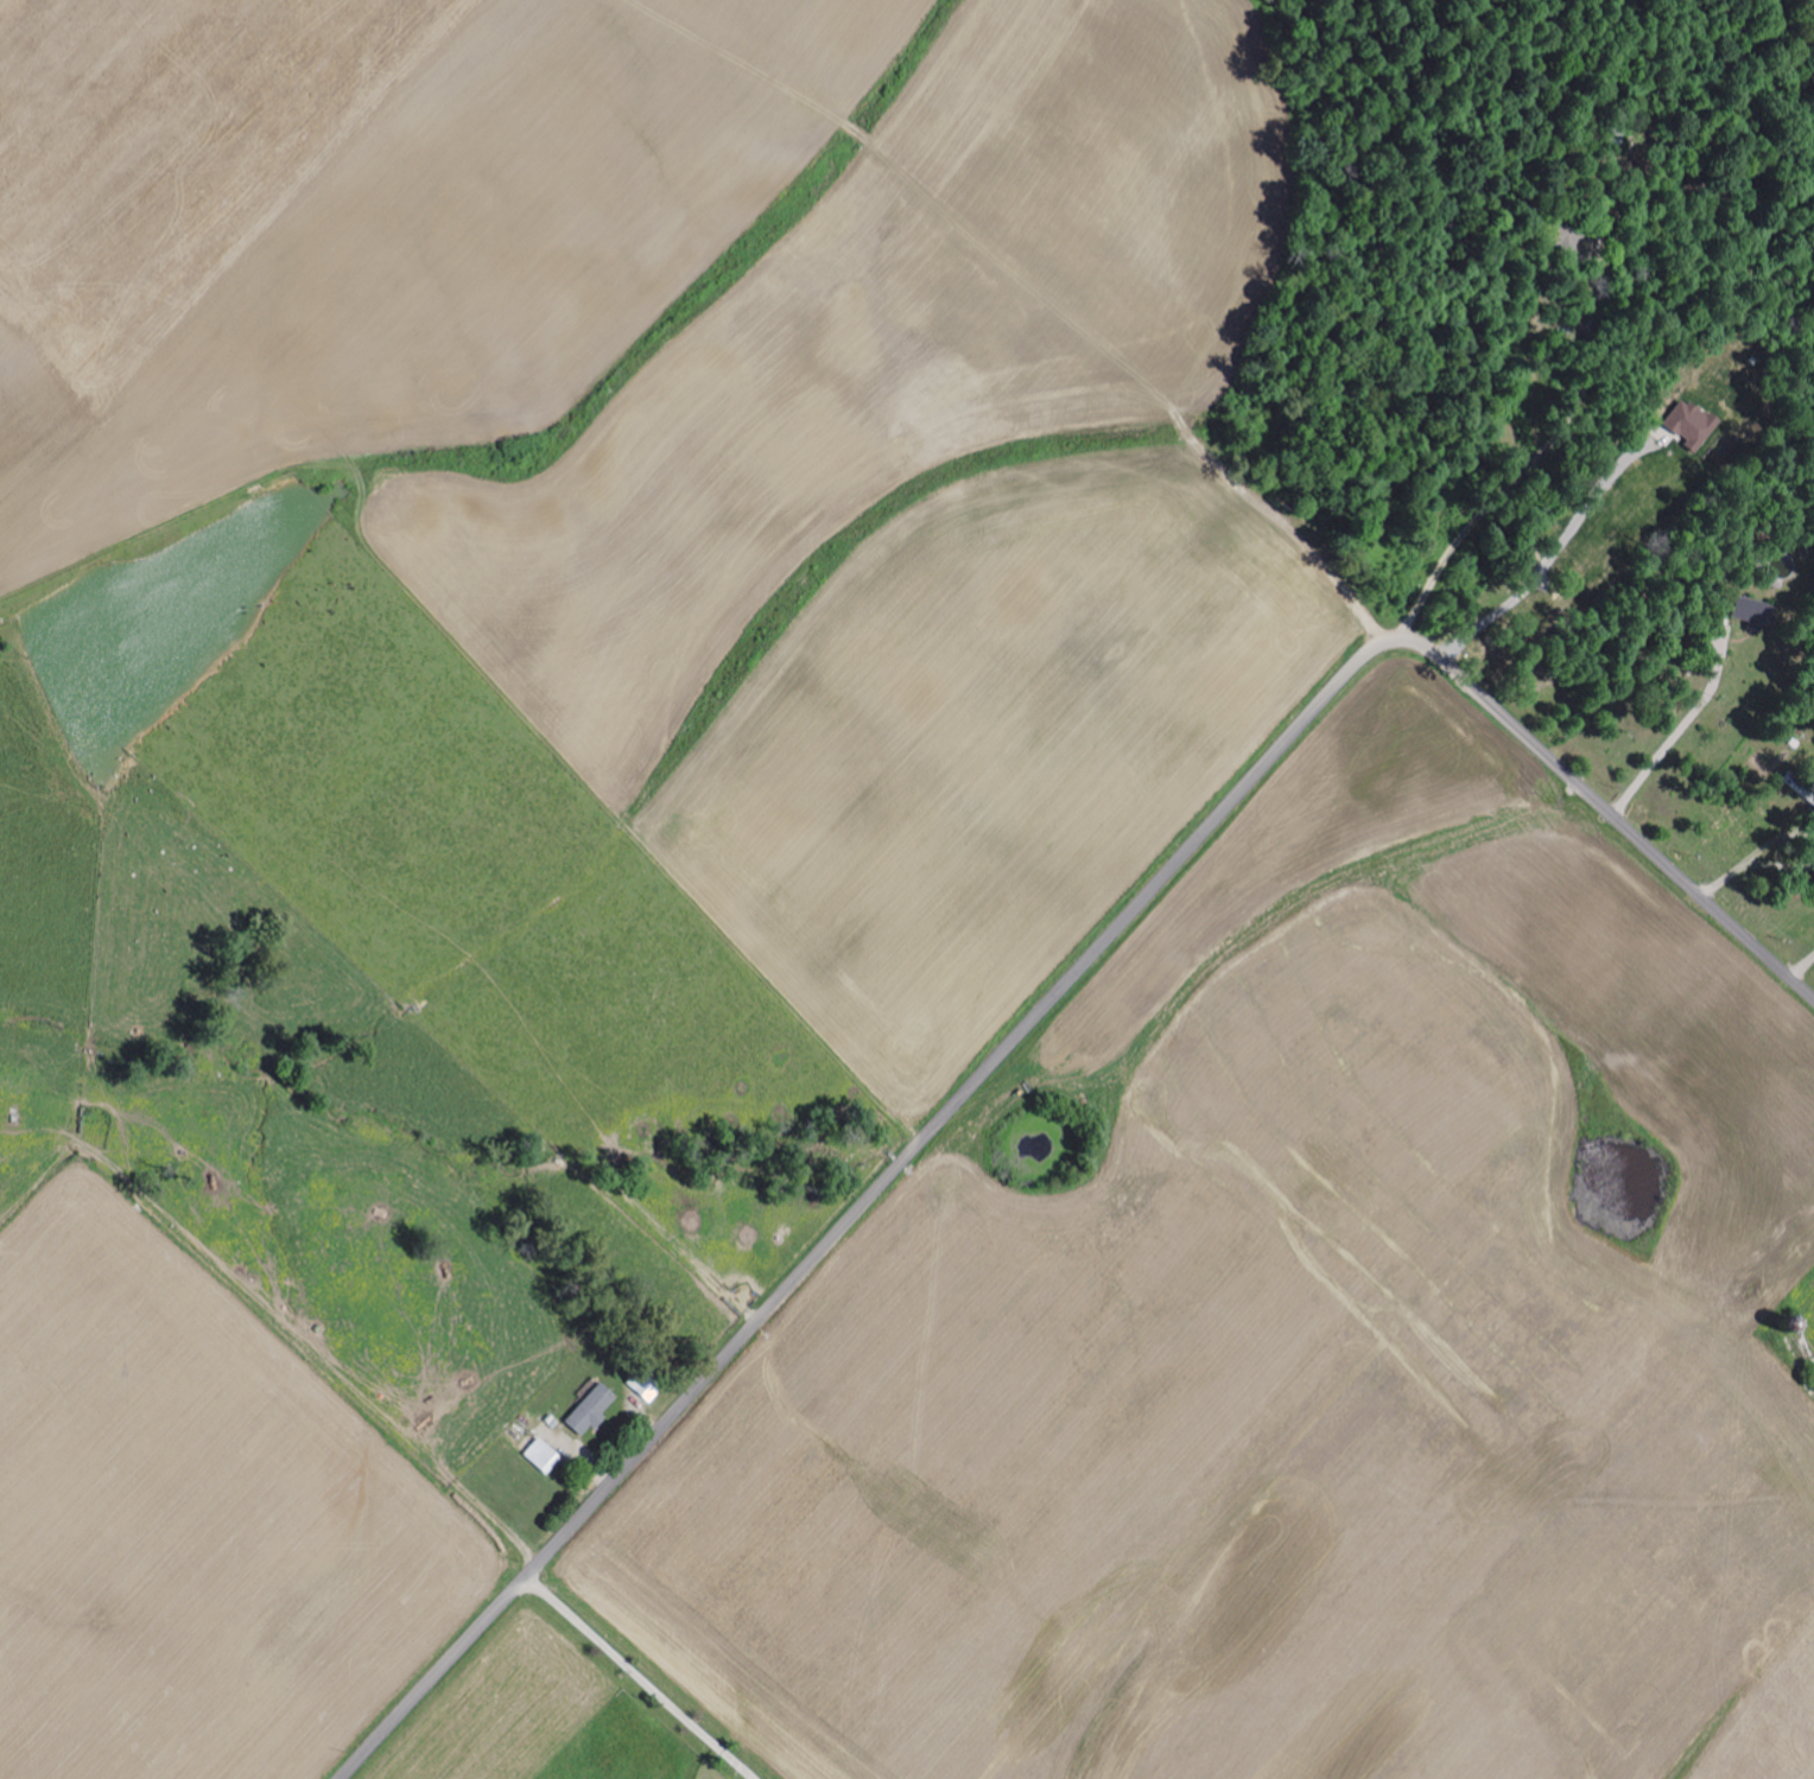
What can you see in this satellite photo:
building: (1683, 424)
road: (1553, 551)
building: (1749, 612)
road: (1685, 729)
road: (1048, 1003)
building: (588, 1409)
building: (539, 1455)
road: (639, 1677)

